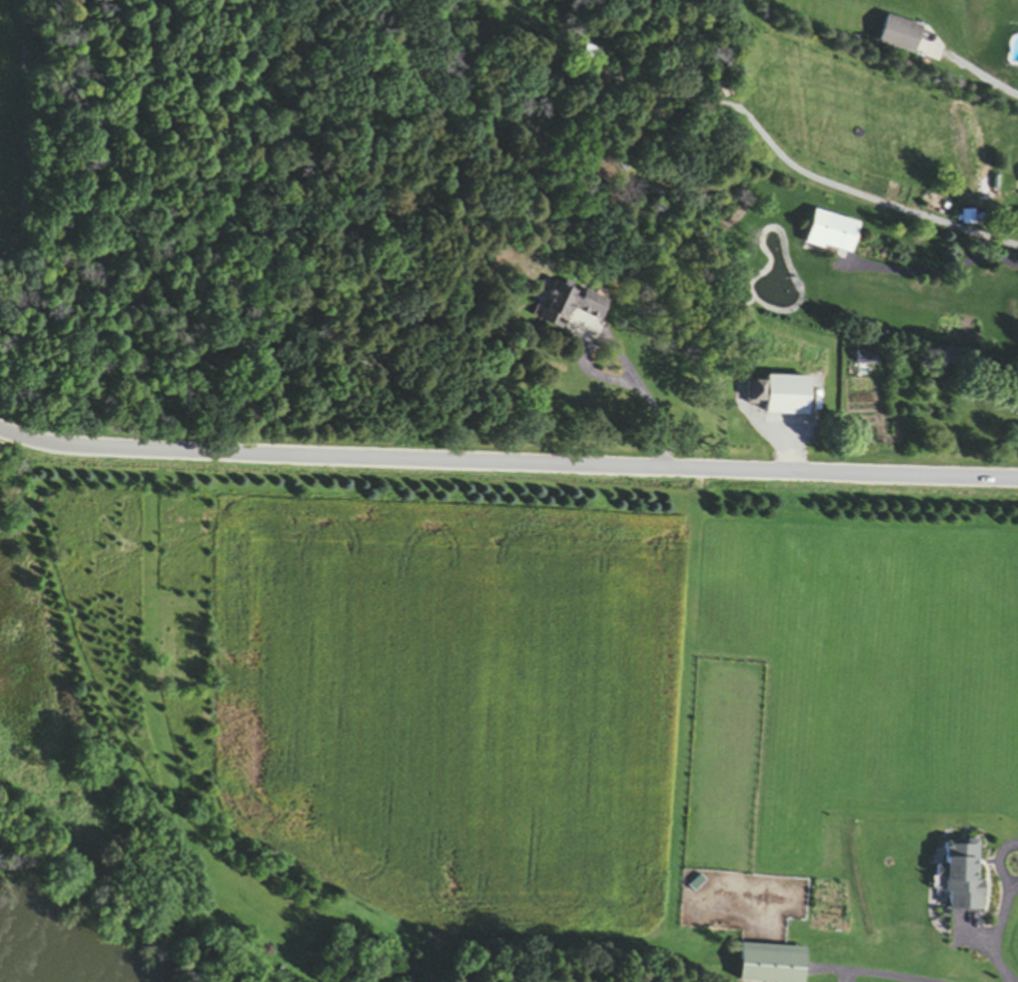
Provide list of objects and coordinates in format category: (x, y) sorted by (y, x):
building: (901, 36)
crop: (10, 123)
building: (969, 218)
building: (834, 234)
building: (571, 307)
building: (866, 360)
road: (597, 378)
building: (788, 398)
road: (507, 462)
building: (962, 877)
road: (1000, 925)
building: (772, 964)
road: (874, 974)
river: (11, 976)

